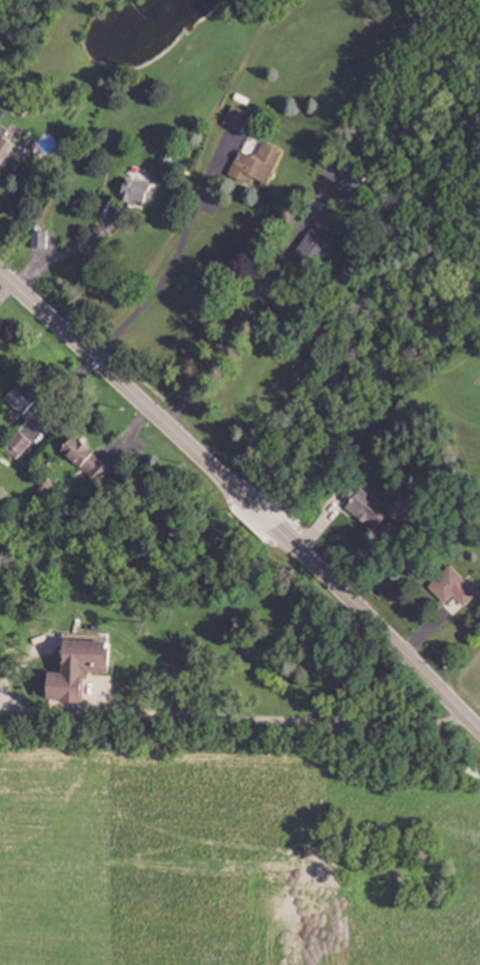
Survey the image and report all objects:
building: (23, 106)
building: (236, 117)
building: (172, 146)
building: (6, 151)
building: (166, 157)
building: (257, 163)
building: (352, 185)
building: (137, 190)
building: (365, 207)
building: (340, 208)
building: (40, 238)
building: (315, 248)
road: (67, 253)
road: (168, 271)
road: (215, 352)
building: (21, 398)
building: (18, 444)
building: (86, 458)
building: (465, 481)
building: (45, 486)
road: (244, 498)
building: (365, 505)
building: (453, 586)
building: (78, 668)
road: (274, 721)

